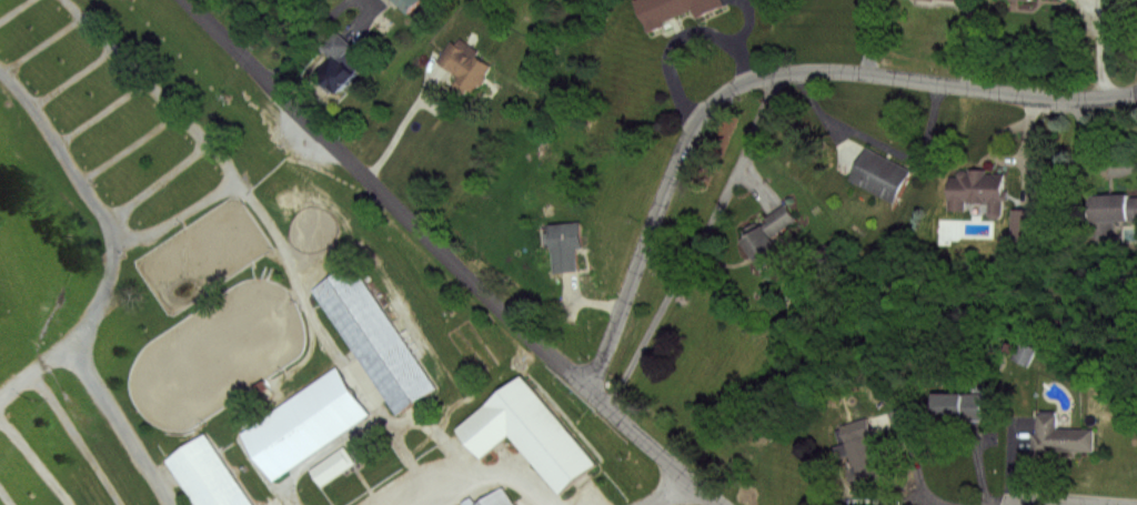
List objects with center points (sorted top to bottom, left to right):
building: (1024, 0)
building: (1049, 0)
building: (947, 1)
building: (411, 4)
building: (675, 9)
road: (14, 10)
road: (40, 42)
building: (343, 67)
building: (470, 67)
road: (765, 75)
road: (72, 77)
road: (152, 87)
road: (100, 109)
road: (399, 127)
road: (127, 142)
road: (879, 142)
road: (63, 150)
road: (1125, 166)
building: (879, 174)
road: (154, 180)
building: (977, 191)
building: (1111, 209)
road: (179, 212)
building: (775, 221)
building: (1024, 226)
road: (696, 244)
building: (570, 245)
building: (759, 249)
park: (202, 251)
road: (449, 257)
road: (100, 295)
park: (271, 301)
building: (375, 335)
road: (335, 345)
park: (217, 351)
road: (95, 391)
building: (956, 407)
building: (304, 420)
building: (529, 431)
road: (77, 437)
building: (1063, 438)
building: (859, 454)
road: (33, 458)
road: (918, 461)
building: (332, 462)
road: (482, 471)
building: (209, 472)
road: (665, 489)
road: (9, 491)
building: (495, 497)
road: (915, 497)
road: (1058, 502)

